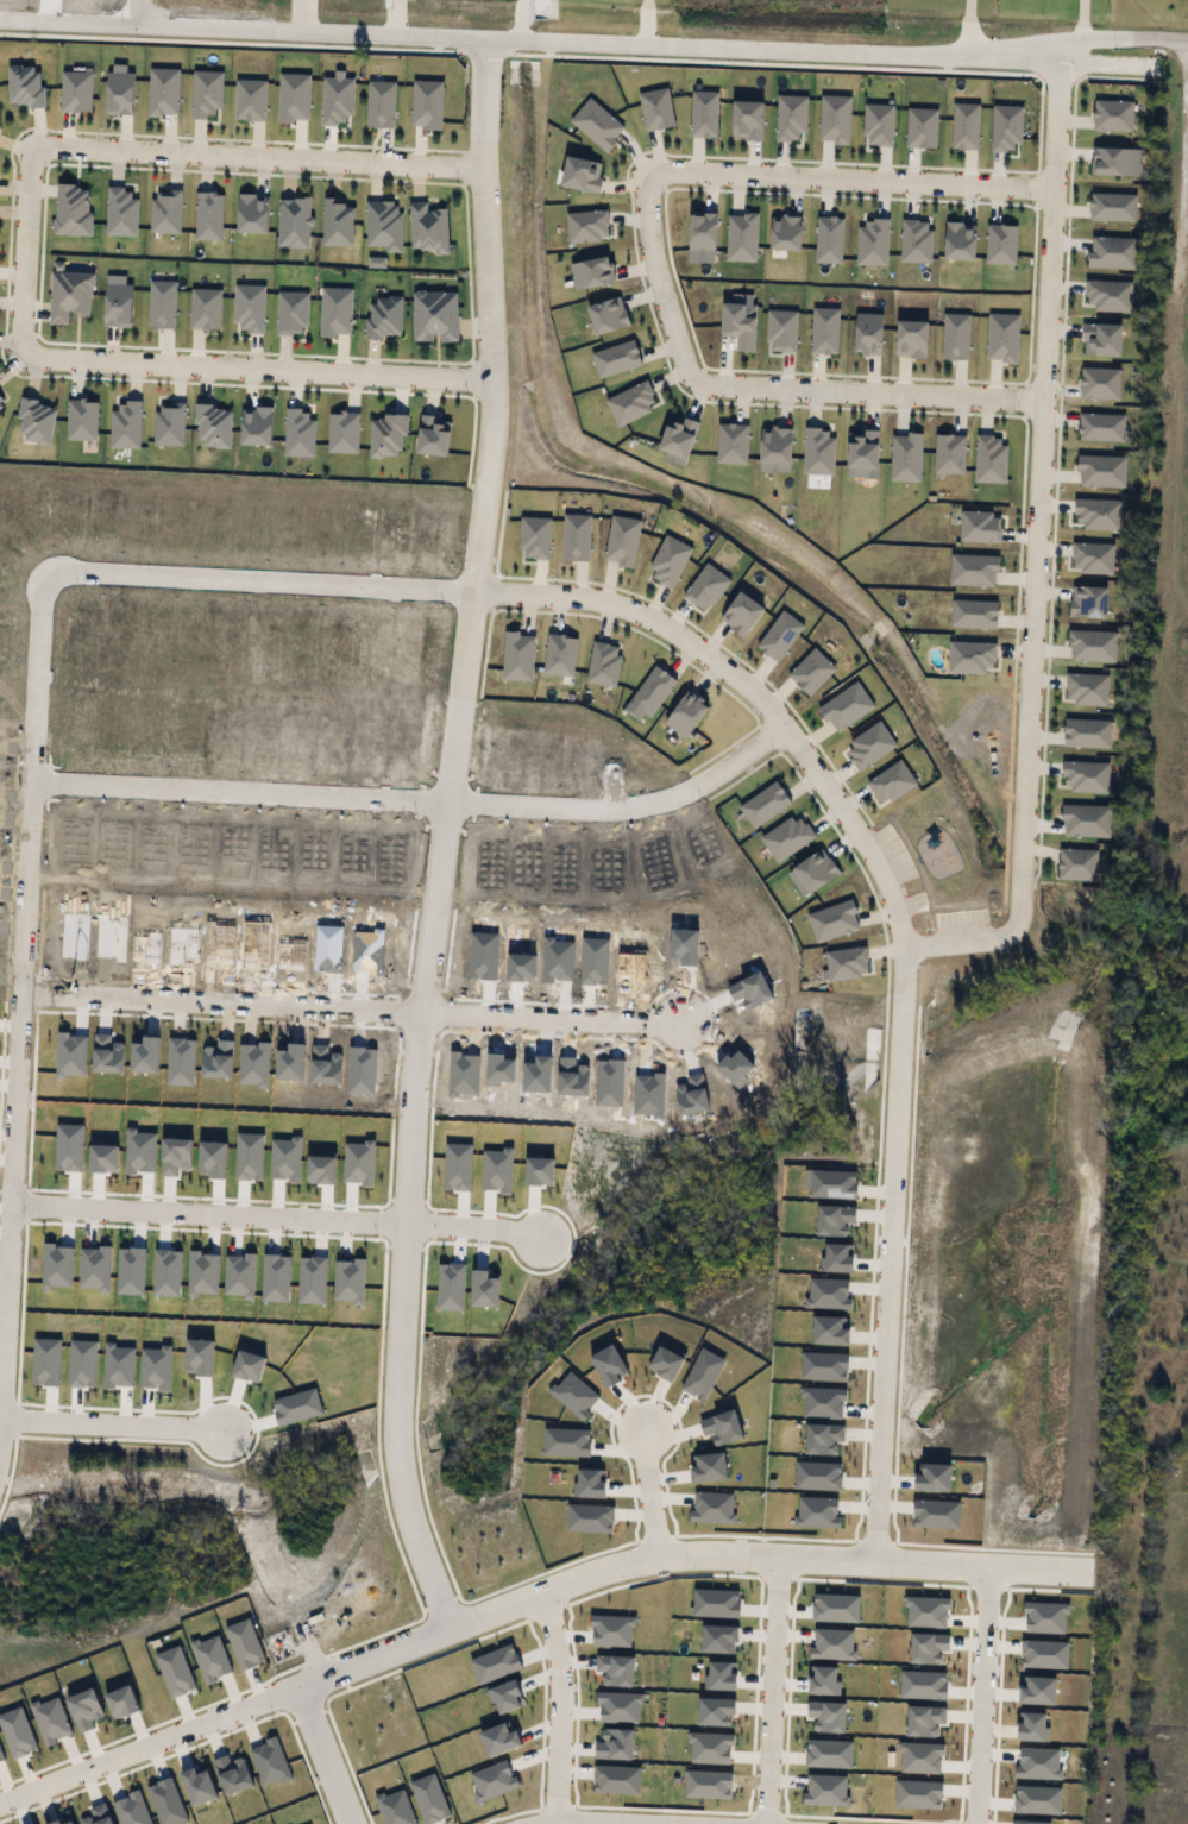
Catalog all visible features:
road: (137, 11)
road: (518, 18)
road: (645, 19)
road: (967, 23)
road: (593, 37)
road: (1181, 134)
road: (209, 151)
road: (800, 178)
road: (206, 366)
road: (813, 389)
road: (1036, 542)
road: (805, 759)
road: (415, 794)
road: (441, 832)
road: (20, 996)
road: (350, 1006)
road: (277, 1215)
road: (111, 1424)
road: (649, 1487)
road: (522, 1595)
road: (310, 1650)
road: (772, 1687)
road: (981, 1693)
road: (557, 1700)
road: (323, 1753)
road: (650, 1818)

